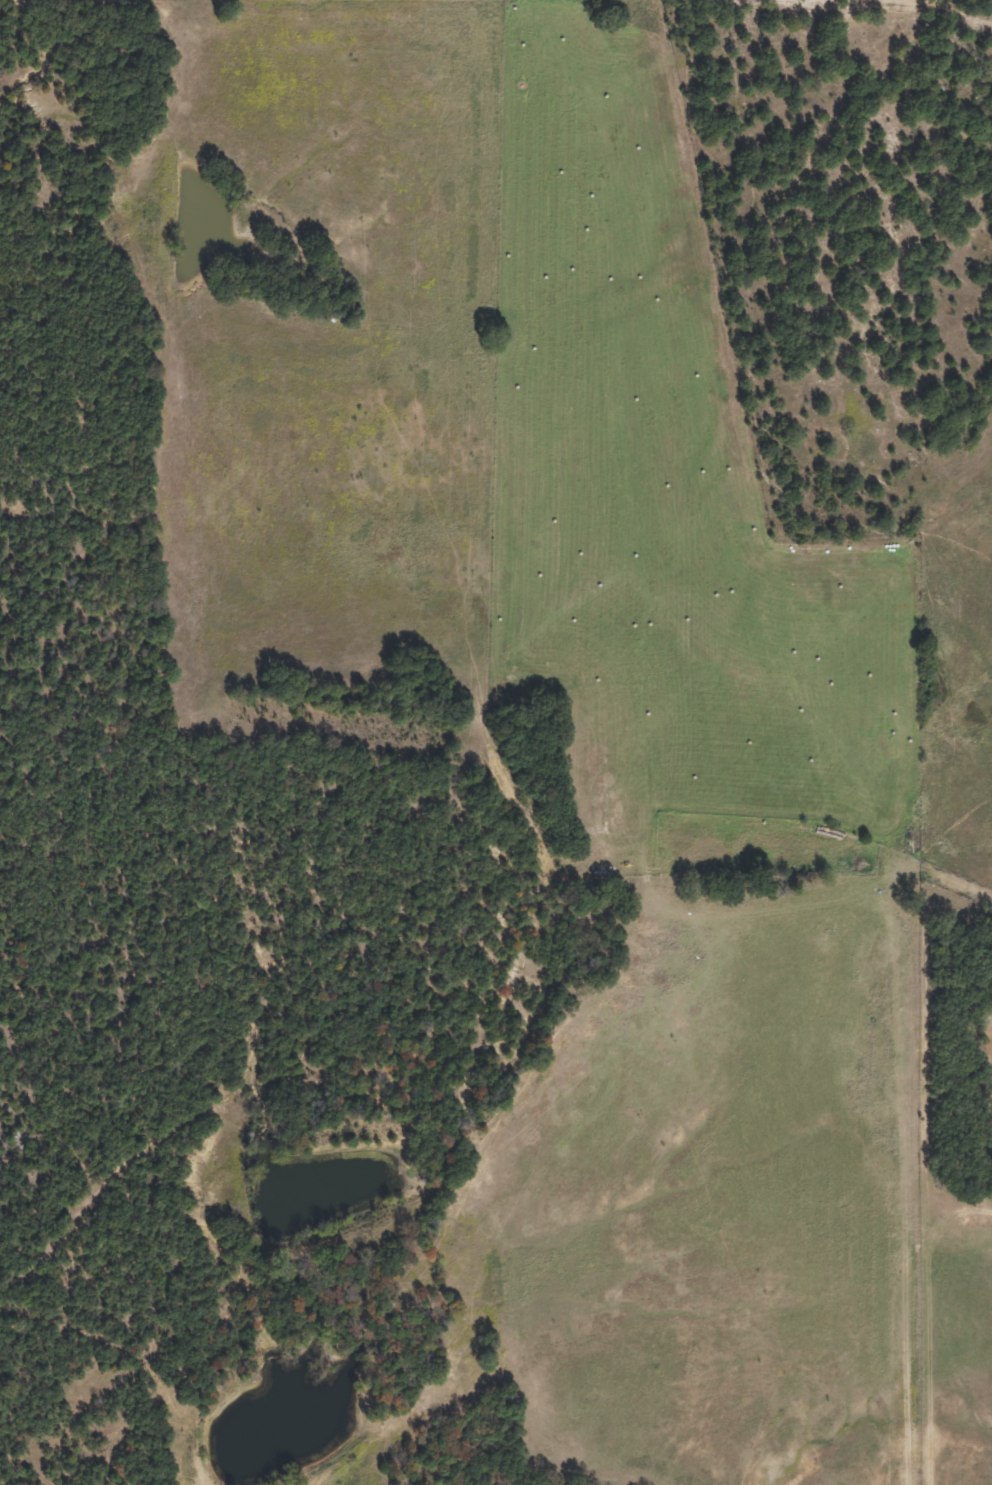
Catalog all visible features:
road: (485, 1036)

